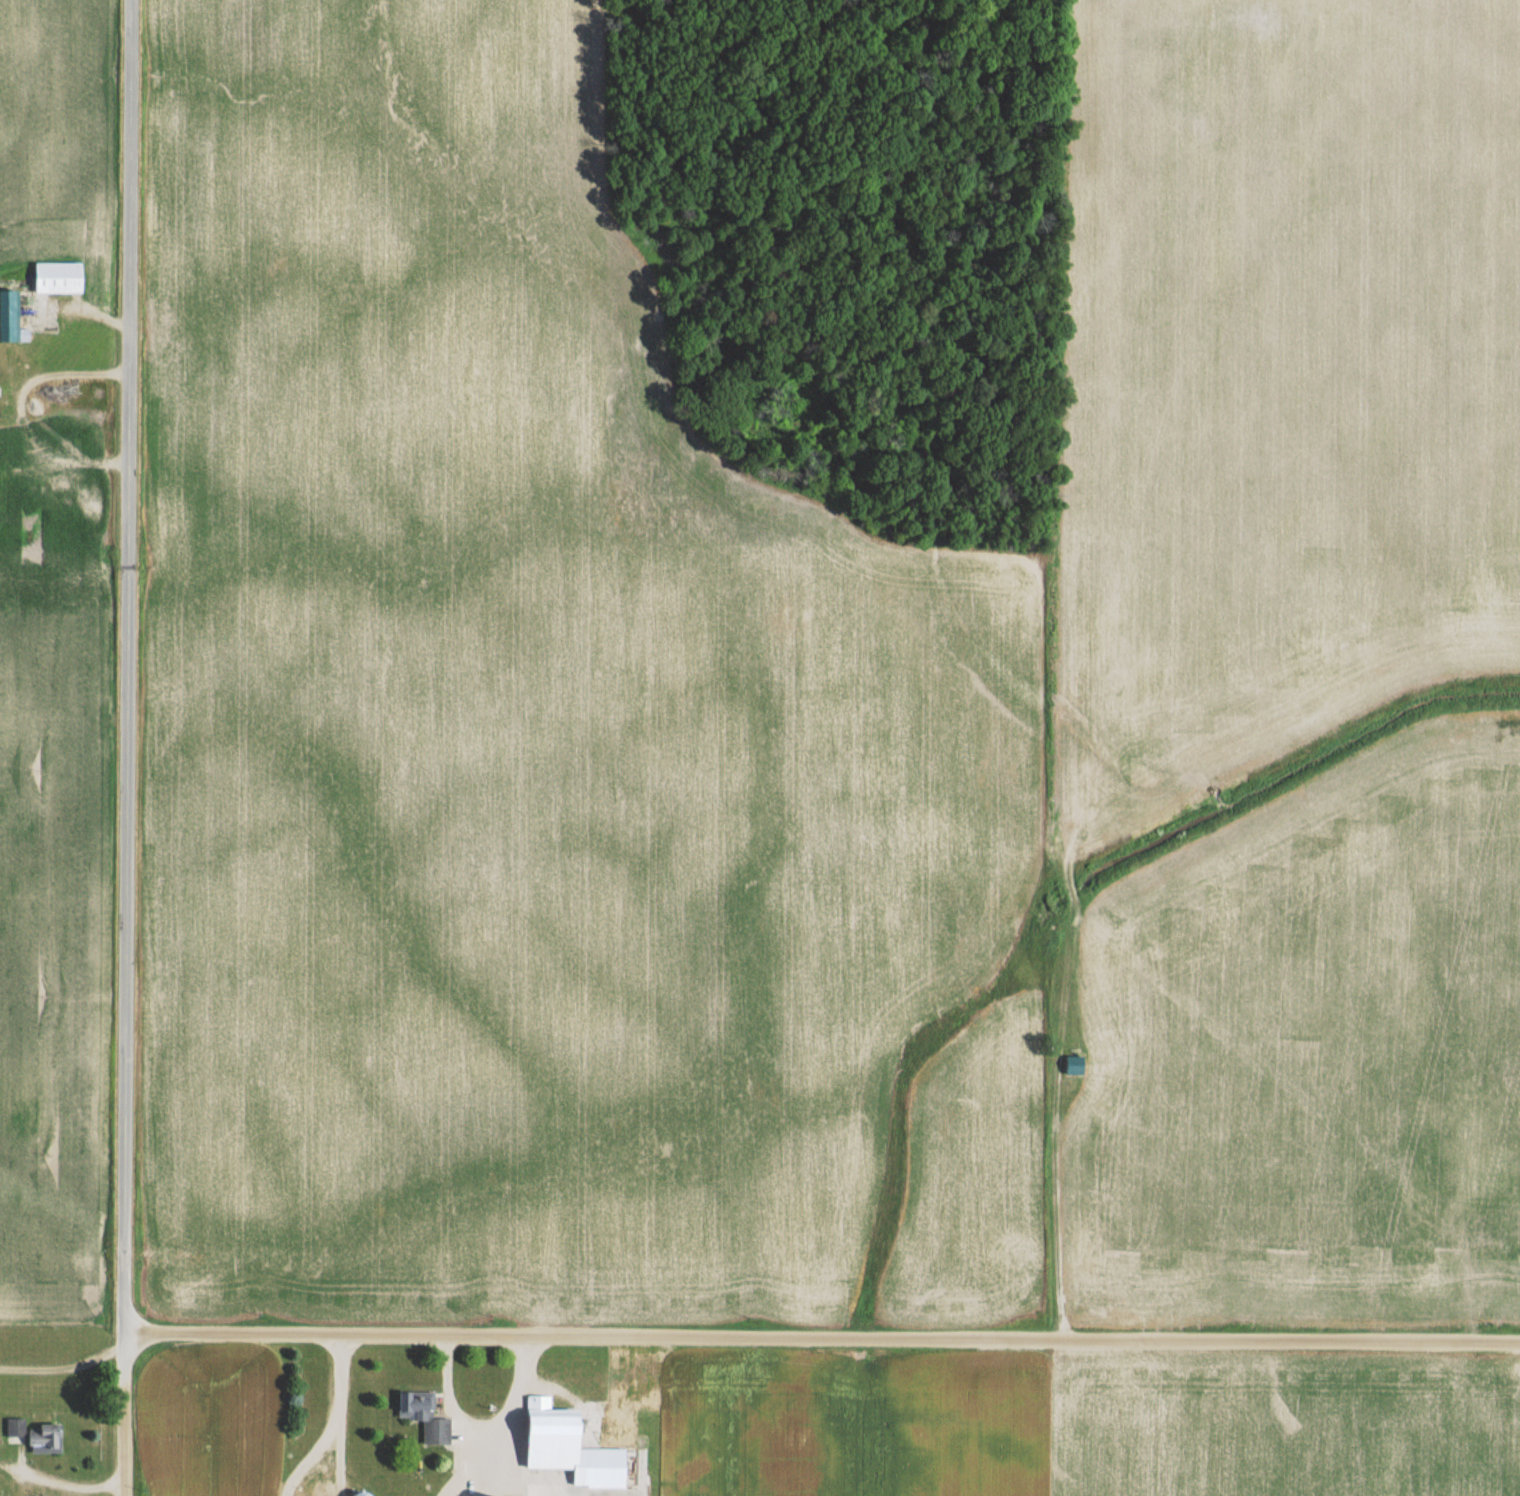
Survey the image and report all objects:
building: (60, 276)
building: (10, 314)
road: (18, 418)
building: (59, 489)
road: (128, 665)
road: (1008, 981)
building: (1076, 1064)
road: (822, 1336)
road: (65, 1366)
road: (448, 1392)
road: (125, 1413)
building: (425, 1414)
road: (504, 1416)
road: (336, 1424)
building: (16, 1429)
building: (48, 1438)
building: (571, 1445)
road: (61, 1483)

